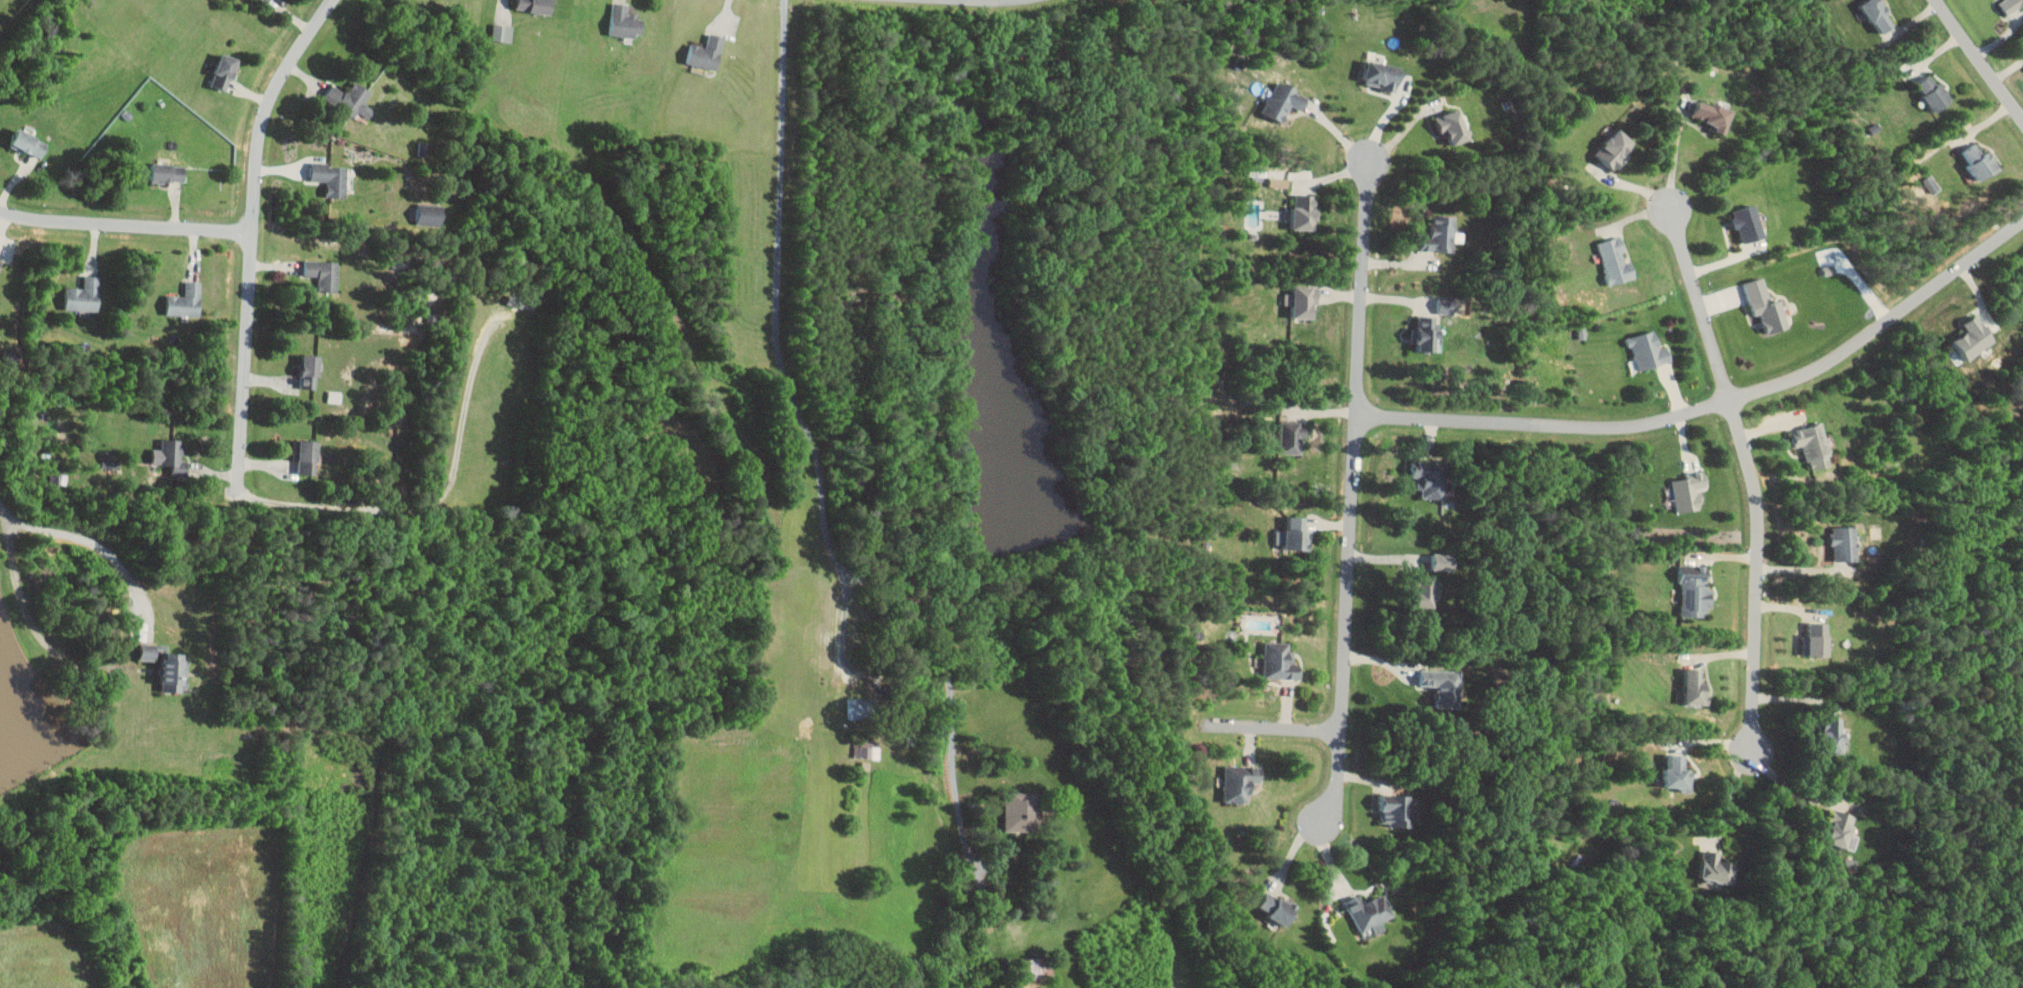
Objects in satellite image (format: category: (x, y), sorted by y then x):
building: (268, 0)
road: (997, 0)
building: (535, 5)
building: (2011, 5)
building: (1880, 15)
building: (625, 21)
building: (502, 32)
building: (707, 52)
road: (1979, 60)
building: (224, 71)
building: (1383, 75)
building: (1935, 91)
building: (350, 99)
building: (1284, 100)
building: (1714, 115)
building: (1453, 125)
road: (1406, 127)
building: (29, 143)
building: (1617, 147)
road: (1675, 158)
building: (1981, 160)
building: (165, 172)
building: (331, 178)
building: (1280, 182)
building: (1305, 211)
building: (430, 213)
building: (1749, 222)
road: (124, 226)
road: (249, 230)
building: (1441, 234)
building: (0, 258)
building: (1616, 261)
building: (323, 274)
road: (775, 287)
building: (84, 295)
building: (185, 301)
building: (1305, 302)
building: (1447, 304)
building: (1766, 305)
building: (1428, 333)
building: (1975, 337)
building: (1649, 350)
building: (310, 371)
road: (1714, 404)
building: (1291, 437)
building: (1813, 444)
building: (167, 453)
building: (307, 457)
building: (1431, 477)
road: (1751, 477)
road: (1353, 490)
building: (1689, 492)
building: (1298, 533)
road: (82, 537)
building: (1280, 539)
building: (1845, 543)
road: (1397, 556)
building: (1444, 561)
road: (1803, 568)
building: (1695, 590)
building: (1426, 591)
building: (1817, 640)
building: (147, 652)
building: (1280, 661)
road: (947, 665)
road: (851, 671)
building: (173, 672)
building: (1444, 686)
building: (1697, 688)
building: (863, 707)
road: (1276, 730)
building: (1835, 736)
building: (869, 750)
building: (1677, 773)
building: (1240, 783)
road: (1791, 791)
road: (1729, 796)
building: (1396, 811)
building: (1021, 812)
building: (1842, 830)
building: (1717, 867)
building: (1277, 908)
building: (1370, 913)
building: (1035, 972)

